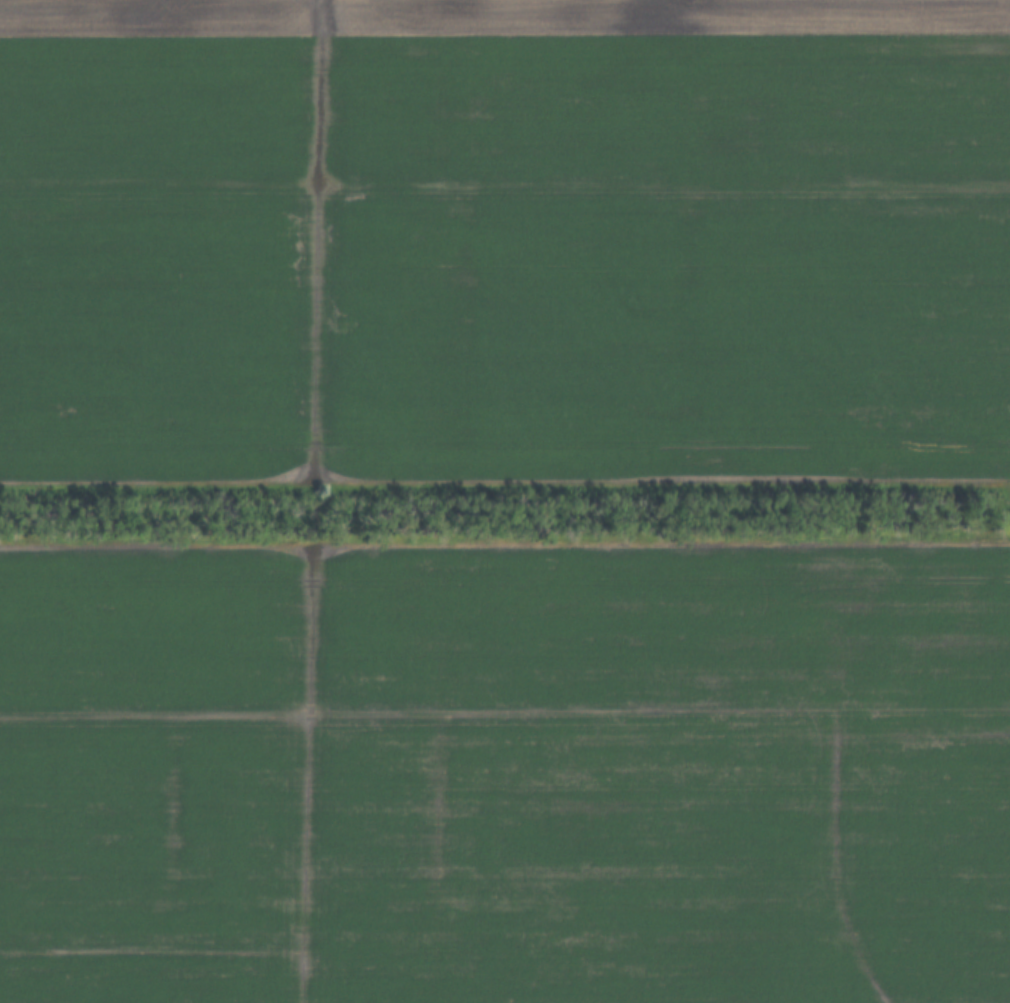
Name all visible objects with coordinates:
crop: (505, 244)
crop: (505, 770)

